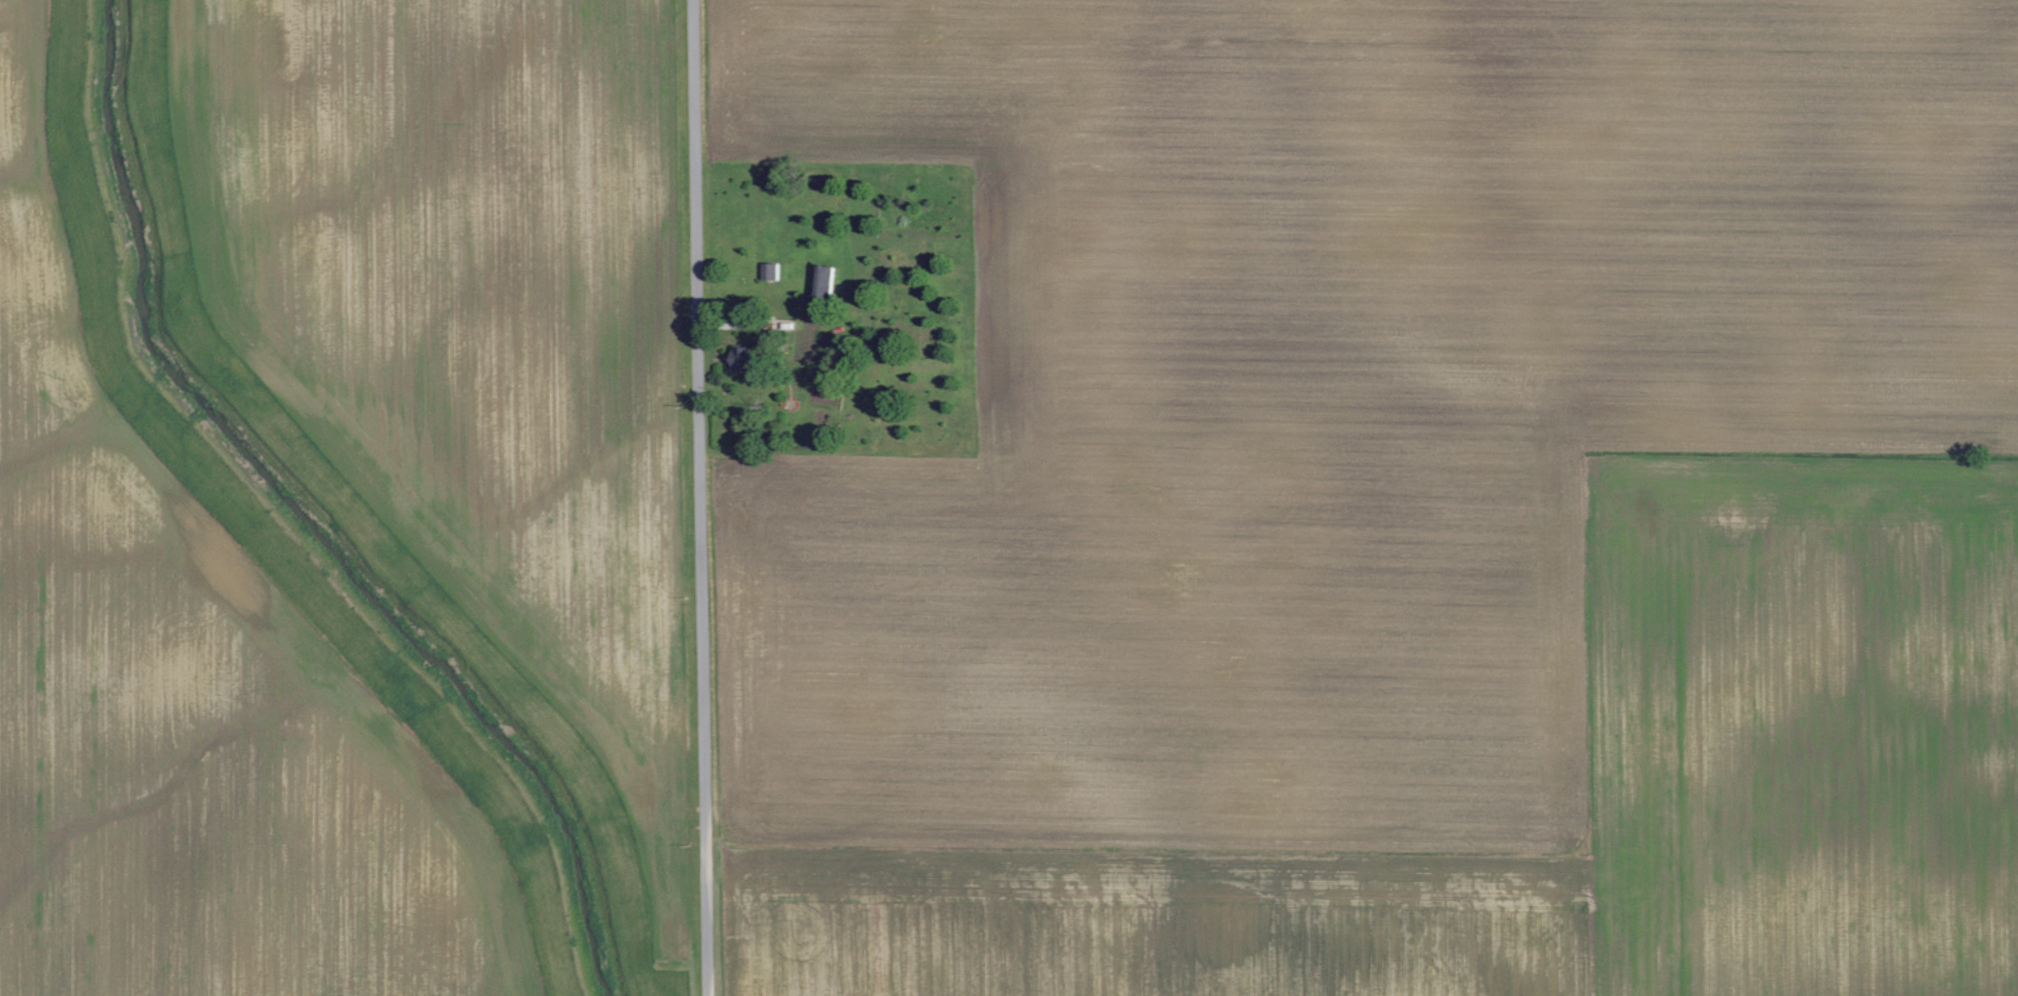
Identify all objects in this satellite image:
road: (703, 498)

